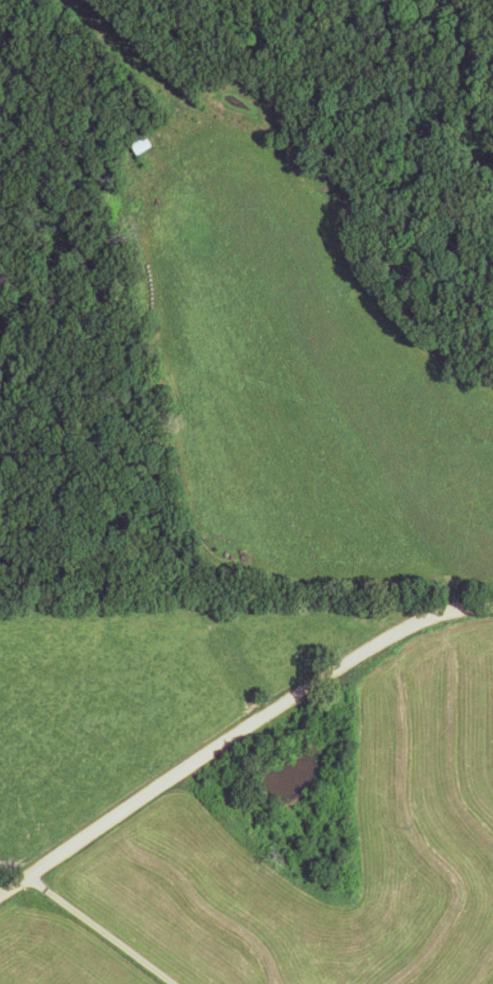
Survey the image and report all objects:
building: (141, 143)
road: (241, 749)

